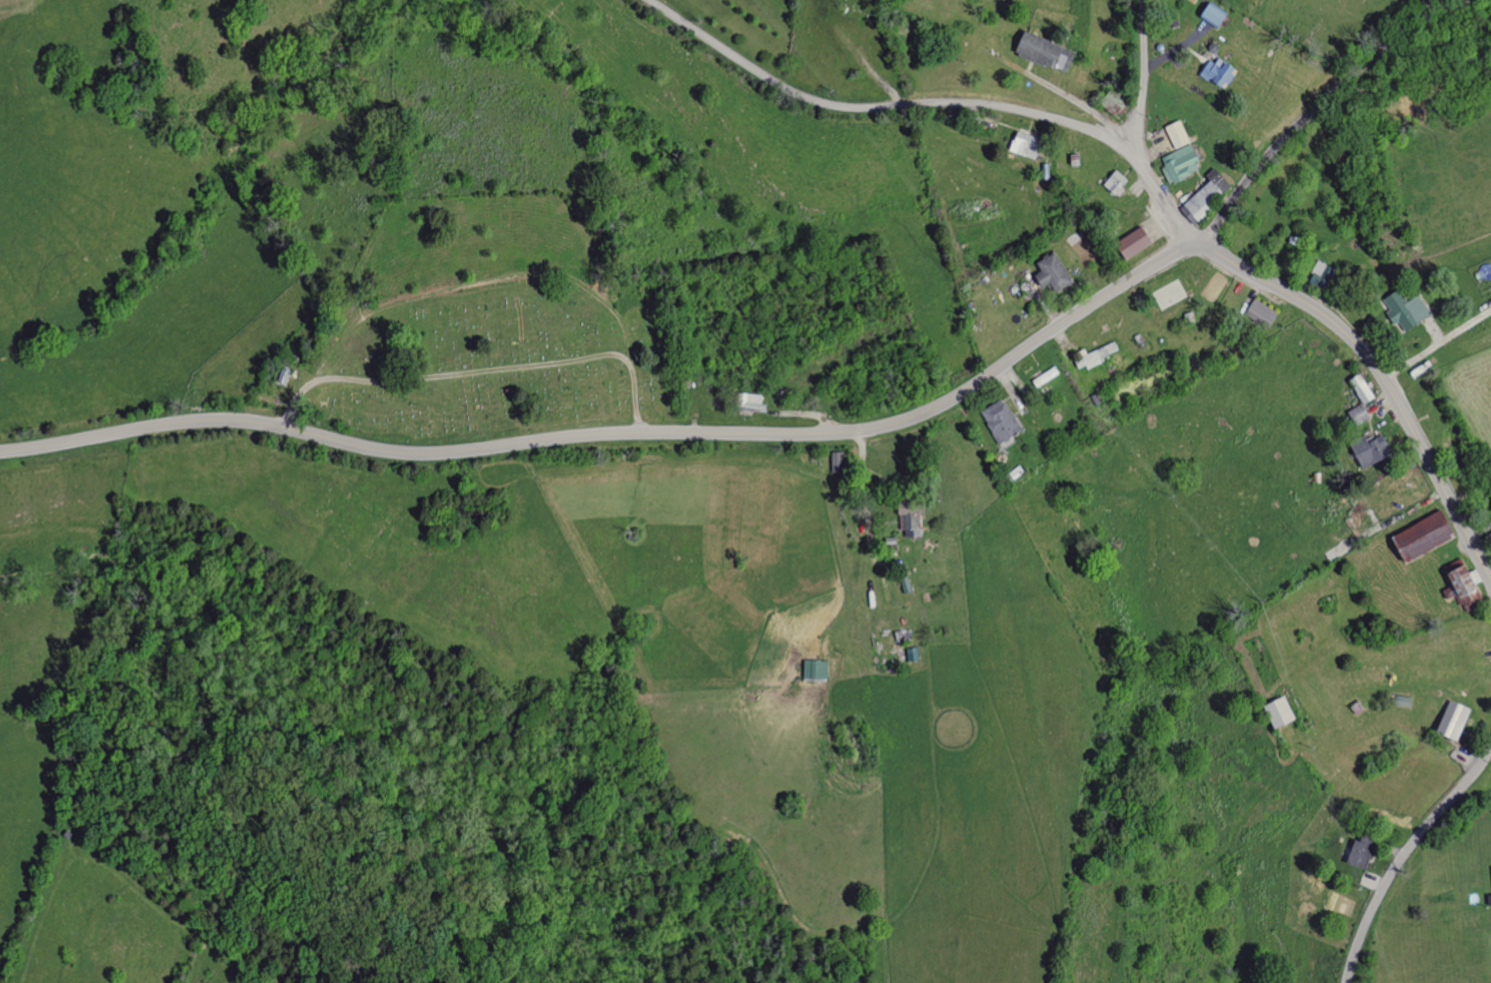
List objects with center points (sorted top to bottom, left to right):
building: (1207, 13)
road: (1174, 51)
building: (1040, 52)
building: (1214, 72)
road: (1145, 77)
road: (937, 103)
road: (1079, 103)
road: (1316, 111)
building: (1174, 134)
building: (1018, 143)
building: (1178, 164)
building: (1114, 183)
building: (1203, 195)
flagpole: (1142, 227)
road: (1162, 227)
building: (1131, 243)
building: (1048, 272)
building: (1318, 274)
park: (1169, 294)
building: (1402, 311)
building: (1258, 313)
road: (1378, 374)
building: (1049, 376)
building: (1355, 415)
building: (1005, 421)
road: (615, 433)
building: (1366, 449)
building: (842, 461)
building: (916, 523)
building: (1416, 538)
building: (1472, 577)
building: (1459, 587)
building: (901, 654)
building: (820, 669)
building: (1401, 701)
building: (1285, 712)
building: (1449, 721)
building: (1366, 851)
road: (1405, 856)

